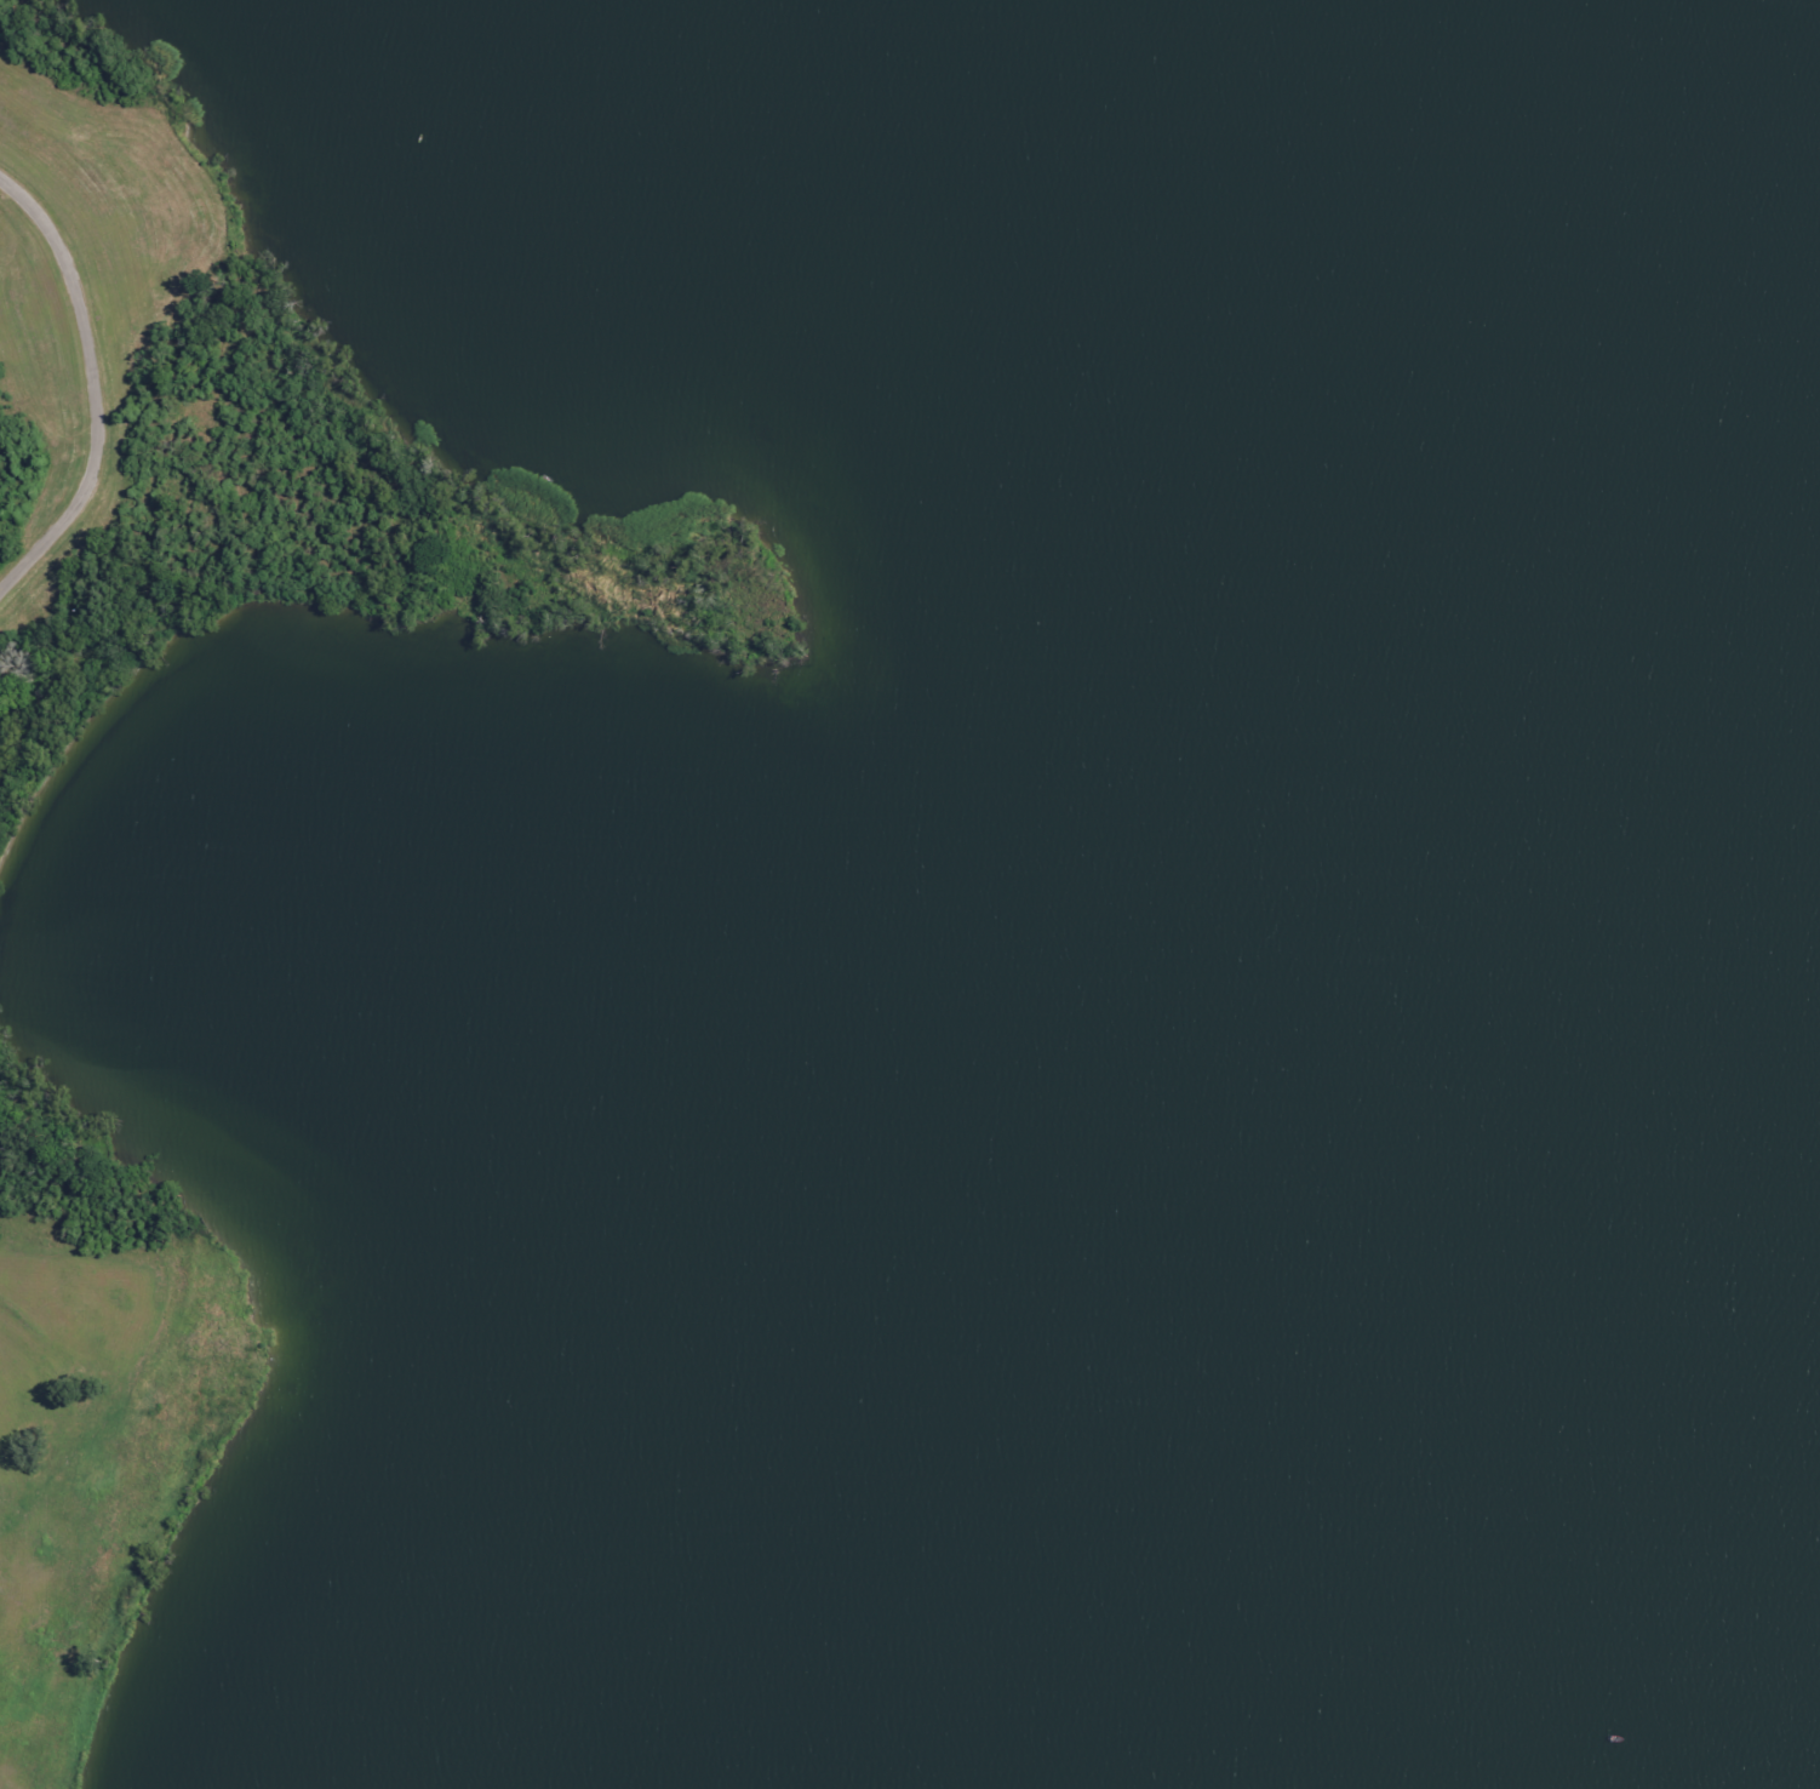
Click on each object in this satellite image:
road: (96, 384)

